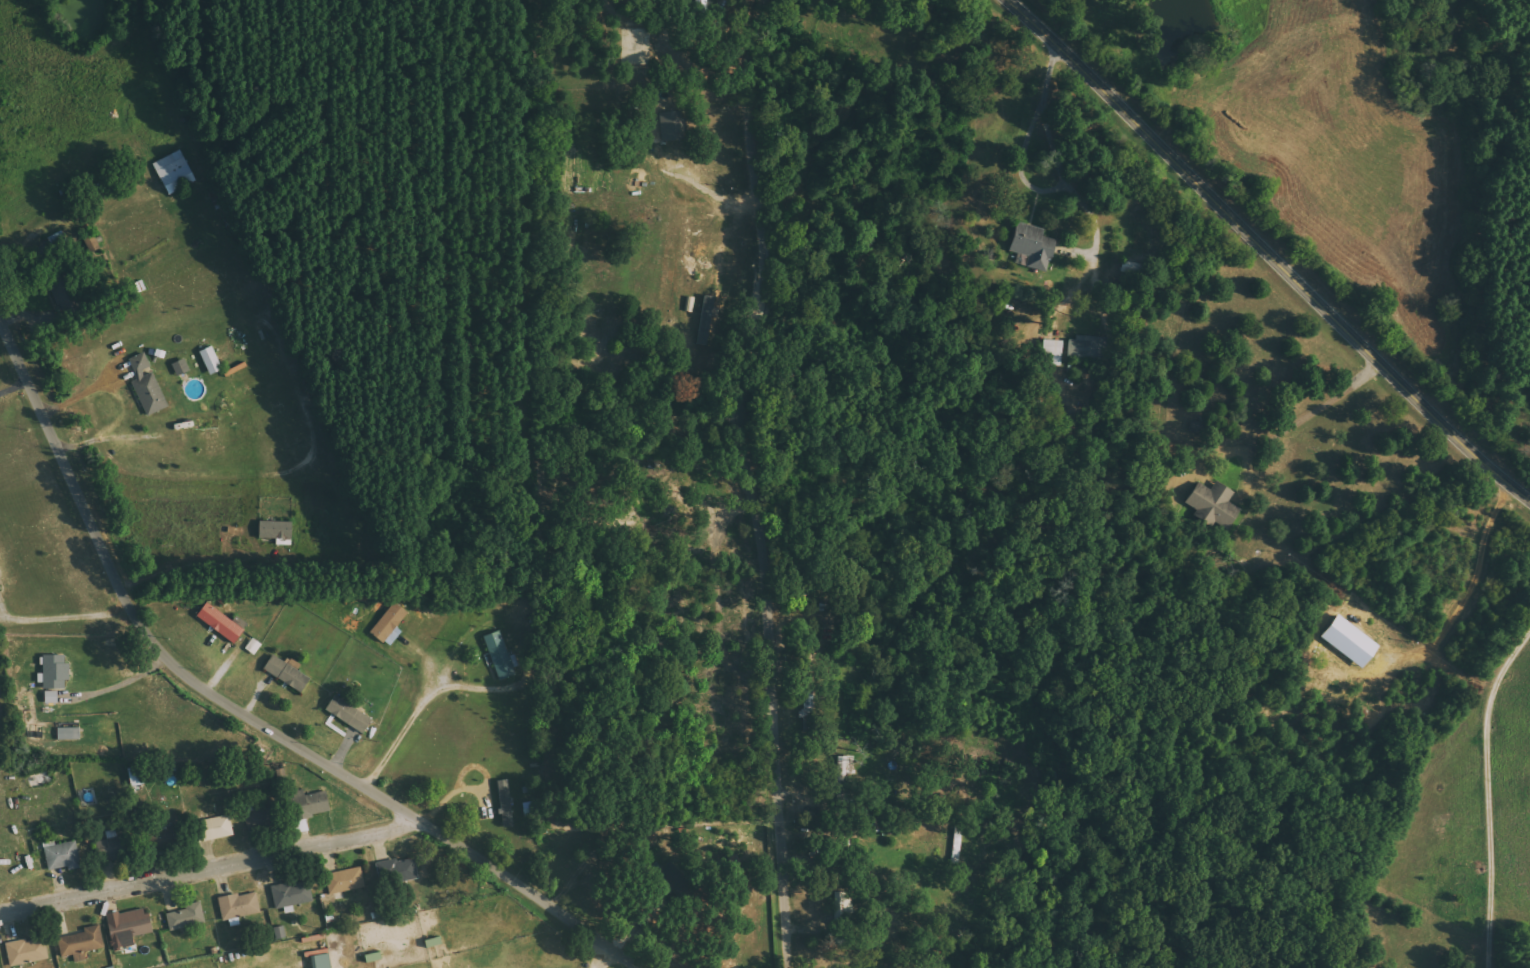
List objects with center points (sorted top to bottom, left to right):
building: (702, 1)
building: (673, 127)
building: (174, 168)
building: (1028, 246)
road: (1271, 247)
building: (708, 320)
building: (1079, 348)
building: (213, 361)
building: (182, 368)
building: (149, 387)
road: (764, 484)
building: (1212, 503)
building: (276, 533)
building: (1, 584)
building: (223, 622)
building: (390, 625)
building: (501, 656)
building: (289, 672)
building: (56, 676)
building: (27, 701)
road: (239, 713)
building: (350, 714)
road: (424, 715)
building: (139, 776)
road: (1484, 795)
building: (316, 803)
building: (506, 803)
building: (219, 828)
building: (114, 848)
building: (63, 855)
road: (211, 869)
building: (399, 871)
building: (343, 881)
building: (293, 894)
building: (240, 905)
building: (844, 908)
building: (187, 917)
building: (131, 924)
building: (83, 942)
building: (28, 951)
building: (375, 957)
building: (324, 961)

